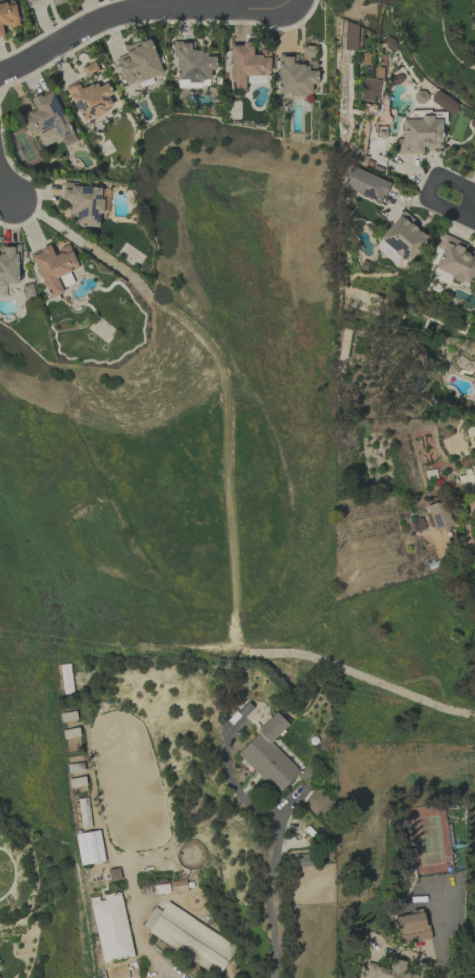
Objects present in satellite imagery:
building: (30, 1)
road: (279, 3)
road: (130, 10)
building: (8, 15)
building: (138, 62)
building: (191, 63)
building: (246, 65)
building: (89, 69)
building: (293, 76)
building: (370, 85)
building: (89, 98)
rooftop solar panel: (53, 105)
building: (46, 119)
rooftop solar panel: (47, 122)
rooftop solar panel: (57, 125)
rooftop solar panel: (64, 132)
building: (419, 135)
road: (433, 176)
building: (365, 184)
road: (6, 188)
rooftop solar panel: (85, 190)
rooftop solar panel: (98, 196)
building: (82, 203)
rooftop solar panel: (92, 209)
rooftop solar panel: (81, 211)
road: (471, 217)
building: (400, 239)
building: (454, 260)
building: (8, 266)
building: (53, 267)
building: (440, 276)
building: (438, 516)
building: (66, 678)
building: (68, 716)
building: (268, 756)
building: (77, 785)
building: (84, 813)
building: (89, 847)
building: (302, 860)
road: (270, 877)
building: (411, 928)
building: (111, 929)
building: (189, 938)
road: (447, 965)
building: (388, 969)

